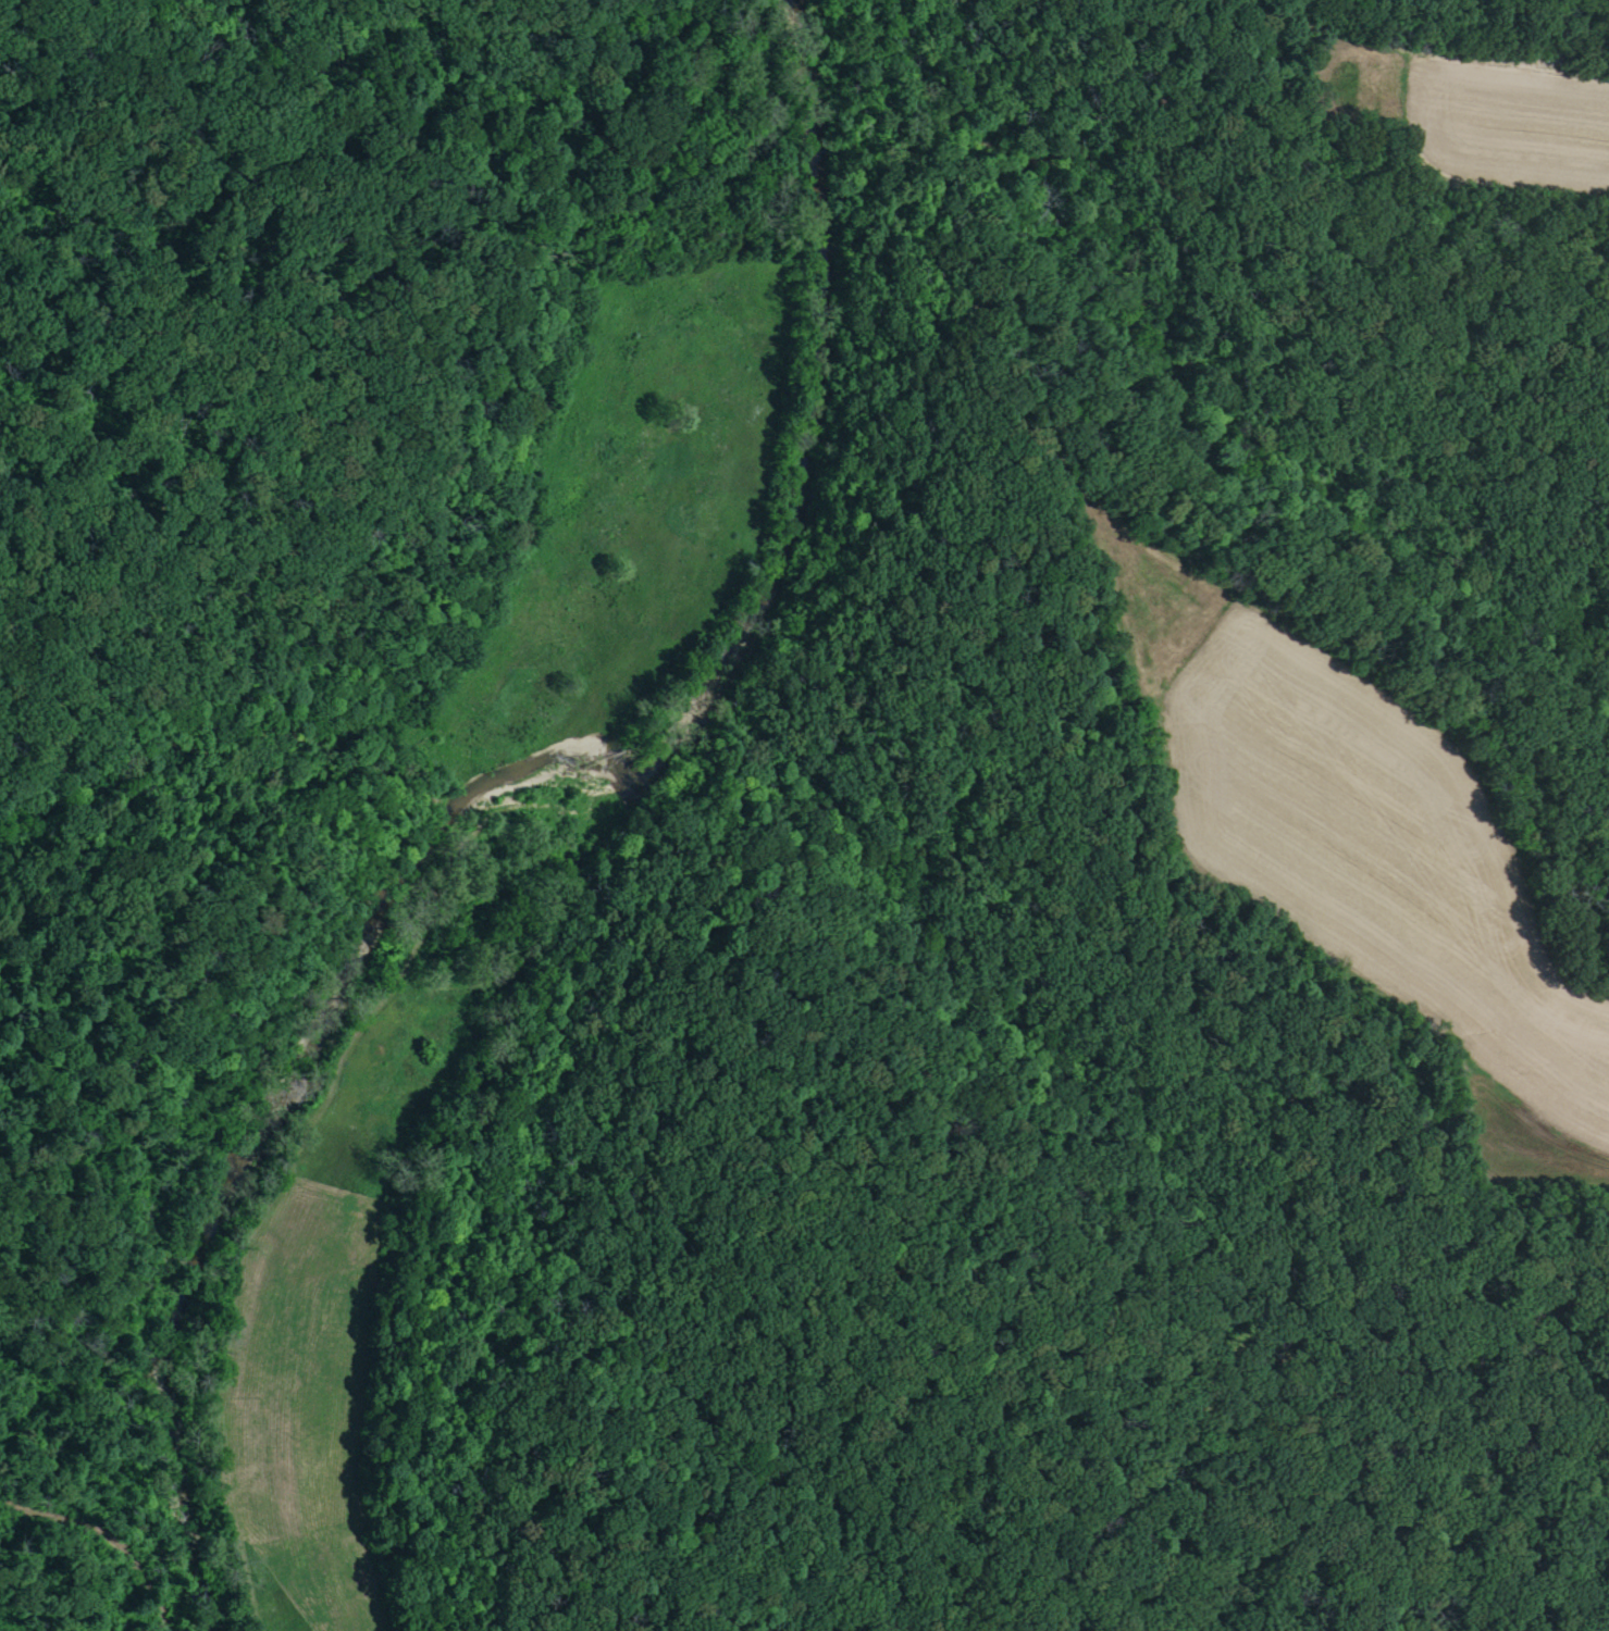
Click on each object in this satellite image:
river: (541, 812)

